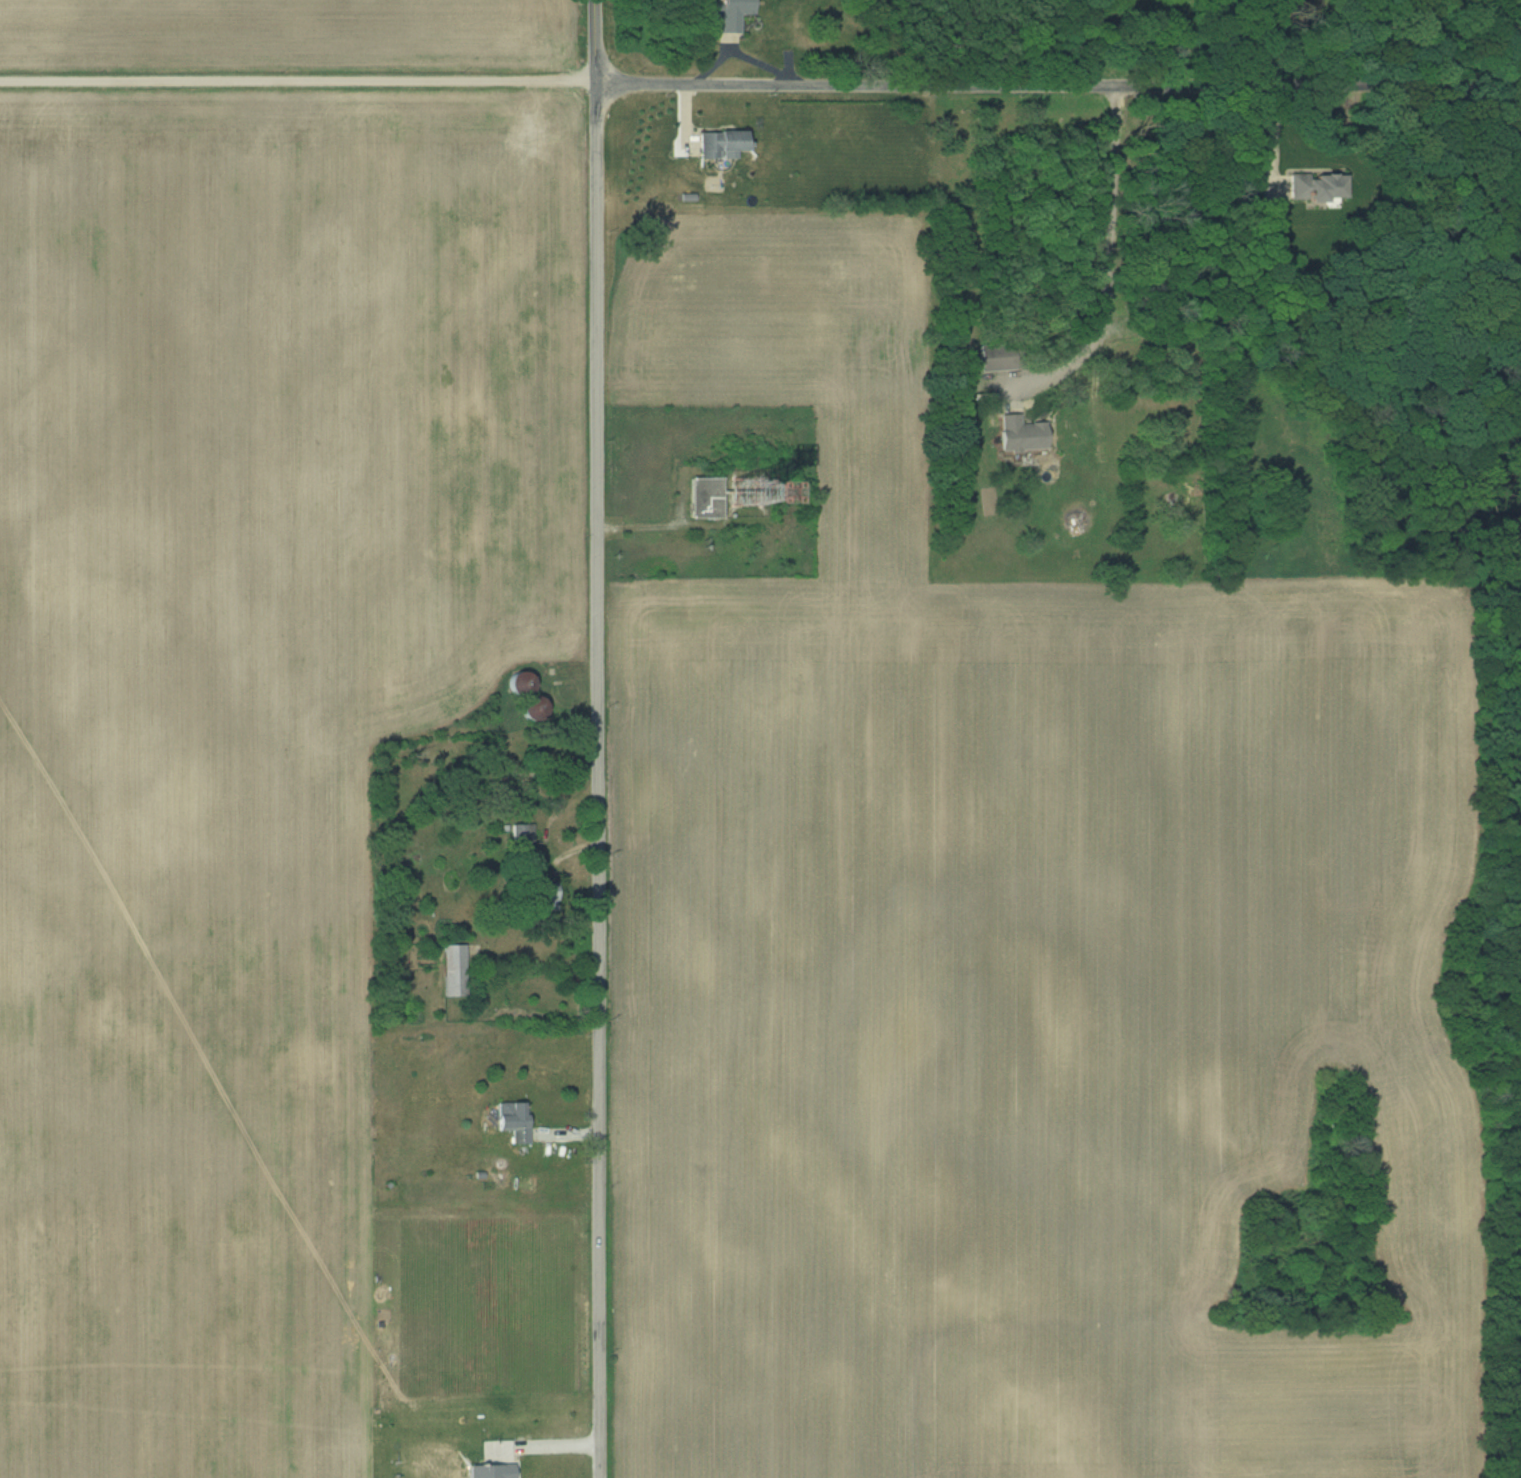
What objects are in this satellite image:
building: (730, 14)
road: (955, 42)
road: (298, 76)
road: (1058, 85)
building: (718, 141)
road: (1274, 141)
road: (1493, 145)
building: (1322, 186)
road: (1114, 264)
building: (997, 355)
building: (1021, 434)
building: (705, 497)
road: (599, 738)
building: (525, 833)
building: (542, 896)
building: (453, 970)
building: (513, 1120)
road: (546, 1445)

